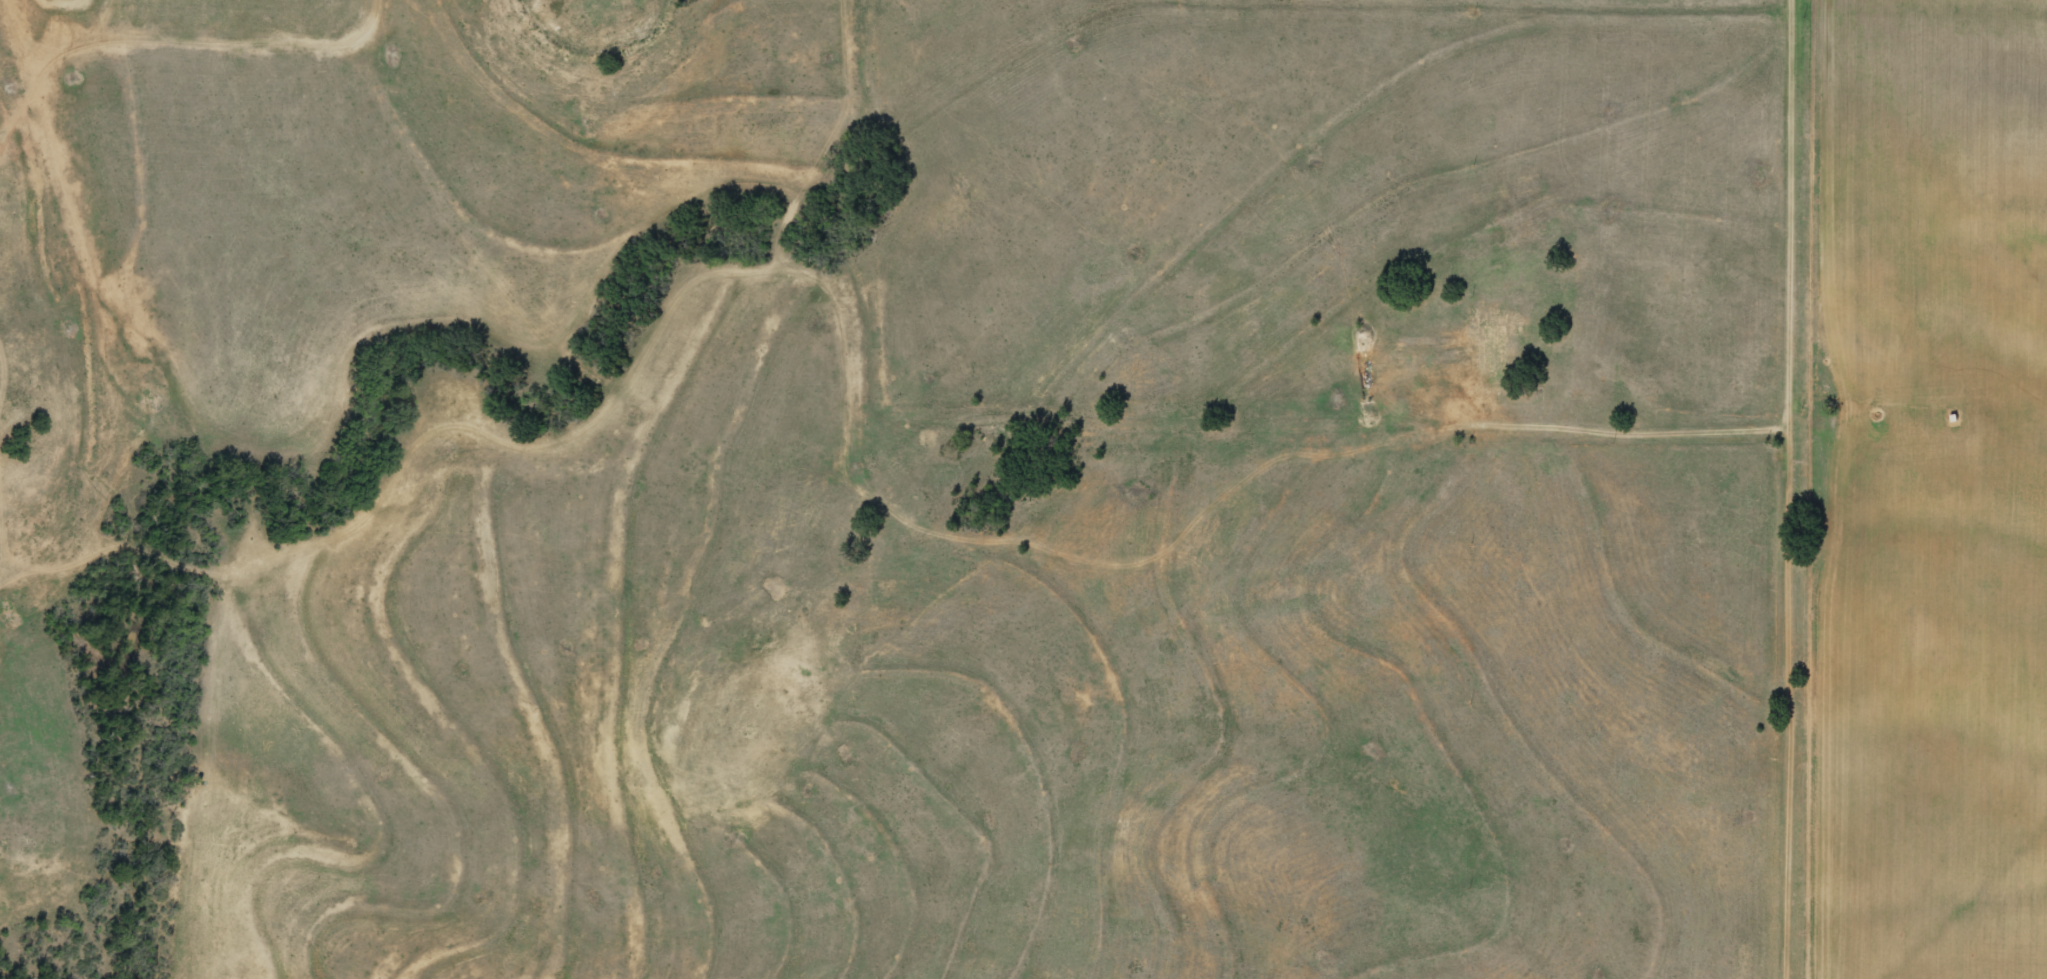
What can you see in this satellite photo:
road: (1817, 489)

